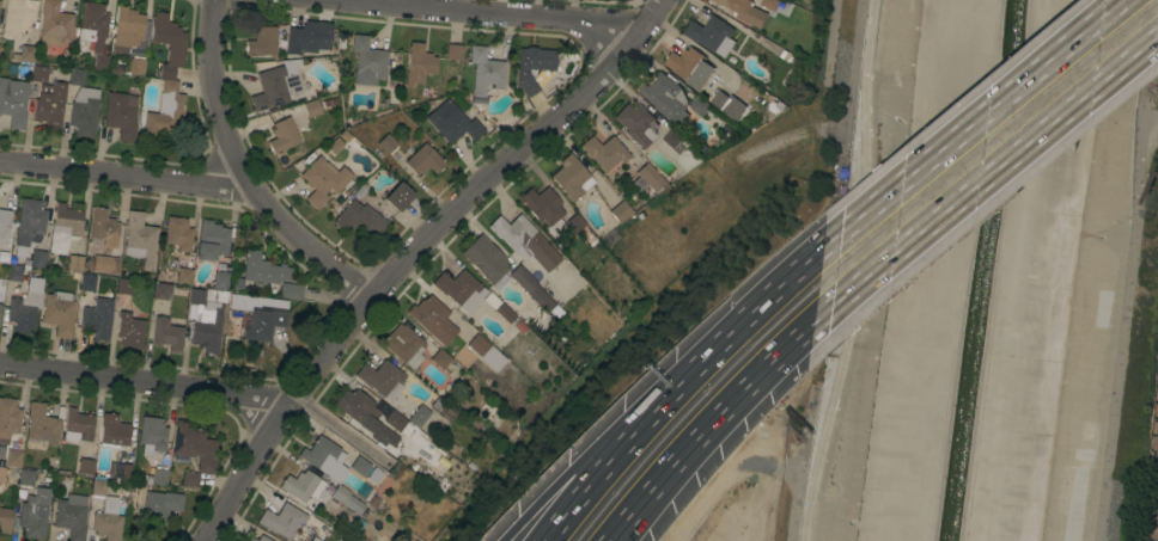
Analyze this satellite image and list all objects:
building: (770, 4)
building: (745, 12)
road: (513, 14)
building: (18, 17)
building: (93, 23)
building: (55, 24)
building: (129, 30)
building: (709, 32)
road: (830, 37)
building: (309, 38)
building: (169, 42)
building: (262, 42)
building: (453, 51)
building: (25, 54)
building: (786, 56)
building: (100, 61)
building: (367, 61)
building: (421, 62)
building: (136, 64)
building: (534, 67)
building: (690, 67)
building: (486, 70)
building: (39, 73)
building: (75, 75)
building: (275, 87)
building: (429, 92)
building: (665, 97)
building: (13, 100)
building: (462, 103)
building: (776, 103)
building: (50, 104)
building: (325, 104)
building: (700, 105)
building: (730, 106)
building: (312, 107)
building: (84, 110)
building: (165, 110)
building: (121, 112)
road: (985, 119)
building: (452, 122)
building: (638, 123)
building: (282, 135)
building: (346, 136)
building: (676, 140)
building: (388, 143)
building: (335, 146)
building: (605, 152)
building: (425, 160)
road: (997, 168)
road: (244, 172)
road: (127, 176)
building: (572, 177)
building: (648, 178)
building: (324, 179)
building: (360, 191)
building: (398, 196)
building: (544, 208)
building: (621, 211)
building: (360, 219)
building: (30, 221)
building: (5, 222)
building: (574, 222)
building: (103, 227)
building: (66, 228)
building: (178, 233)
building: (611, 236)
building: (140, 239)
building: (212, 240)
building: (525, 242)
road: (414, 253)
building: (39, 258)
building: (486, 260)
building: (74, 262)
building: (105, 264)
building: (264, 270)
river: (986, 270)
building: (14, 272)
road: (857, 272)
building: (184, 276)
building: (220, 278)
building: (87, 282)
building: (123, 285)
building: (461, 288)
building: (291, 289)
building: (163, 290)
building: (534, 290)
building: (492, 300)
building: (256, 302)
building: (0, 306)
building: (24, 311)
building: (60, 312)
building: (505, 312)
building: (206, 316)
building: (98, 318)
building: (433, 319)
road: (748, 321)
building: (263, 322)
building: (130, 330)
building: (167, 333)
building: (404, 344)
building: (486, 352)
building: (440, 358)
building: (382, 377)
road: (150, 382)
building: (355, 402)
building: (443, 410)
building: (419, 414)
road: (717, 414)
building: (8, 418)
building: (394, 419)
building: (43, 423)
building: (78, 425)
building: (356, 425)
building: (114, 430)
road: (346, 430)
building: (152, 435)
road: (614, 437)
building: (194, 447)
building: (452, 448)
building: (13, 457)
building: (324, 457)
building: (360, 465)
building: (86, 466)
building: (473, 466)
building: (118, 469)
road: (602, 472)
building: (1, 474)
building: (374, 474)
building: (158, 475)
road: (676, 475)
building: (26, 477)
building: (190, 478)
building: (440, 484)
building: (301, 485)
building: (134, 497)
building: (346, 498)
building: (376, 502)
road: (535, 505)
building: (160, 506)
building: (35, 512)
building: (106, 512)
building: (71, 515)
building: (5, 520)
building: (287, 523)
building: (260, 539)
building: (380, 539)

